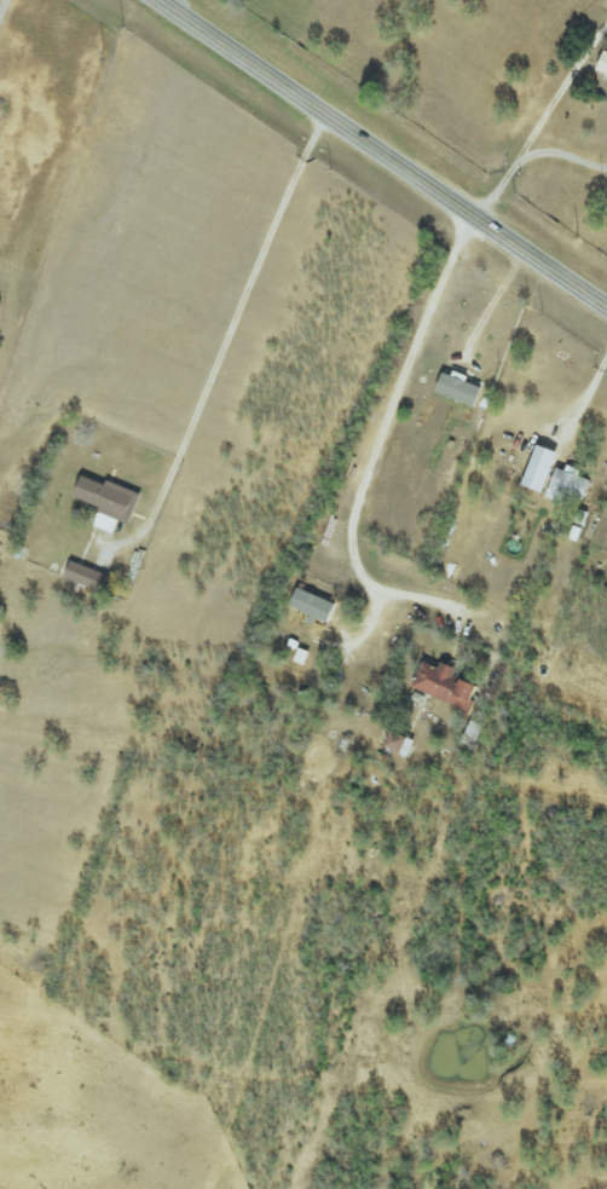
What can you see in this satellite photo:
road: (4, 10)
building: (603, 65)
road: (378, 154)
road: (527, 156)
road: (498, 302)
road: (224, 342)
building: (461, 389)
road: (586, 393)
road: (371, 463)
building: (544, 469)
building: (571, 486)
building: (111, 502)
building: (91, 578)
building: (312, 610)
building: (441, 686)
building: (394, 744)

